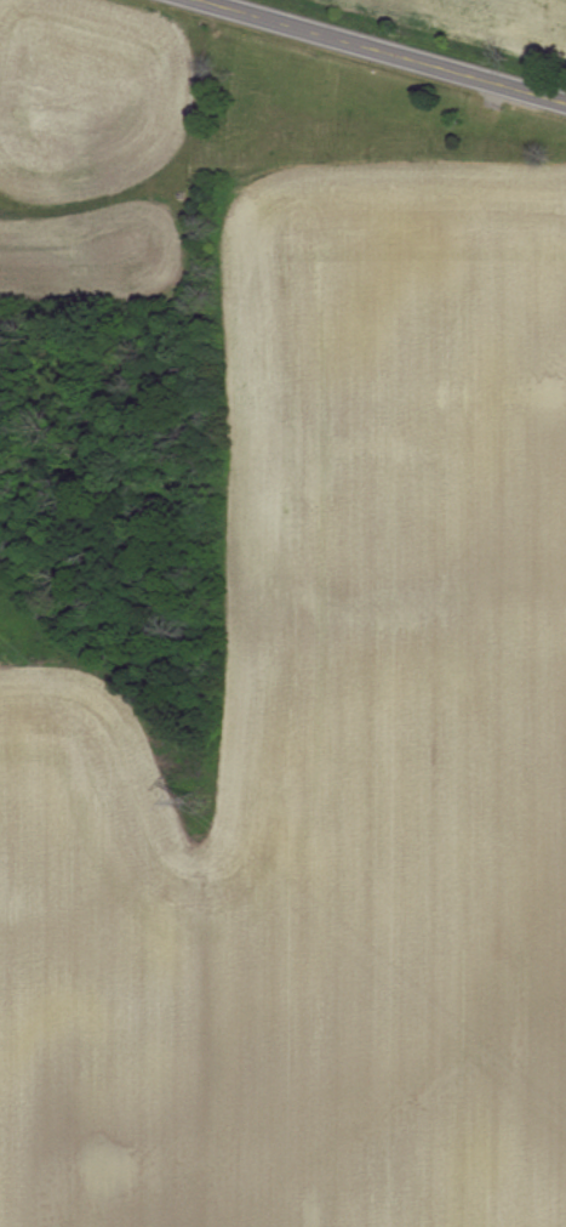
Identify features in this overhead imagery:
road: (387, 50)
power tower: (196, 801)

